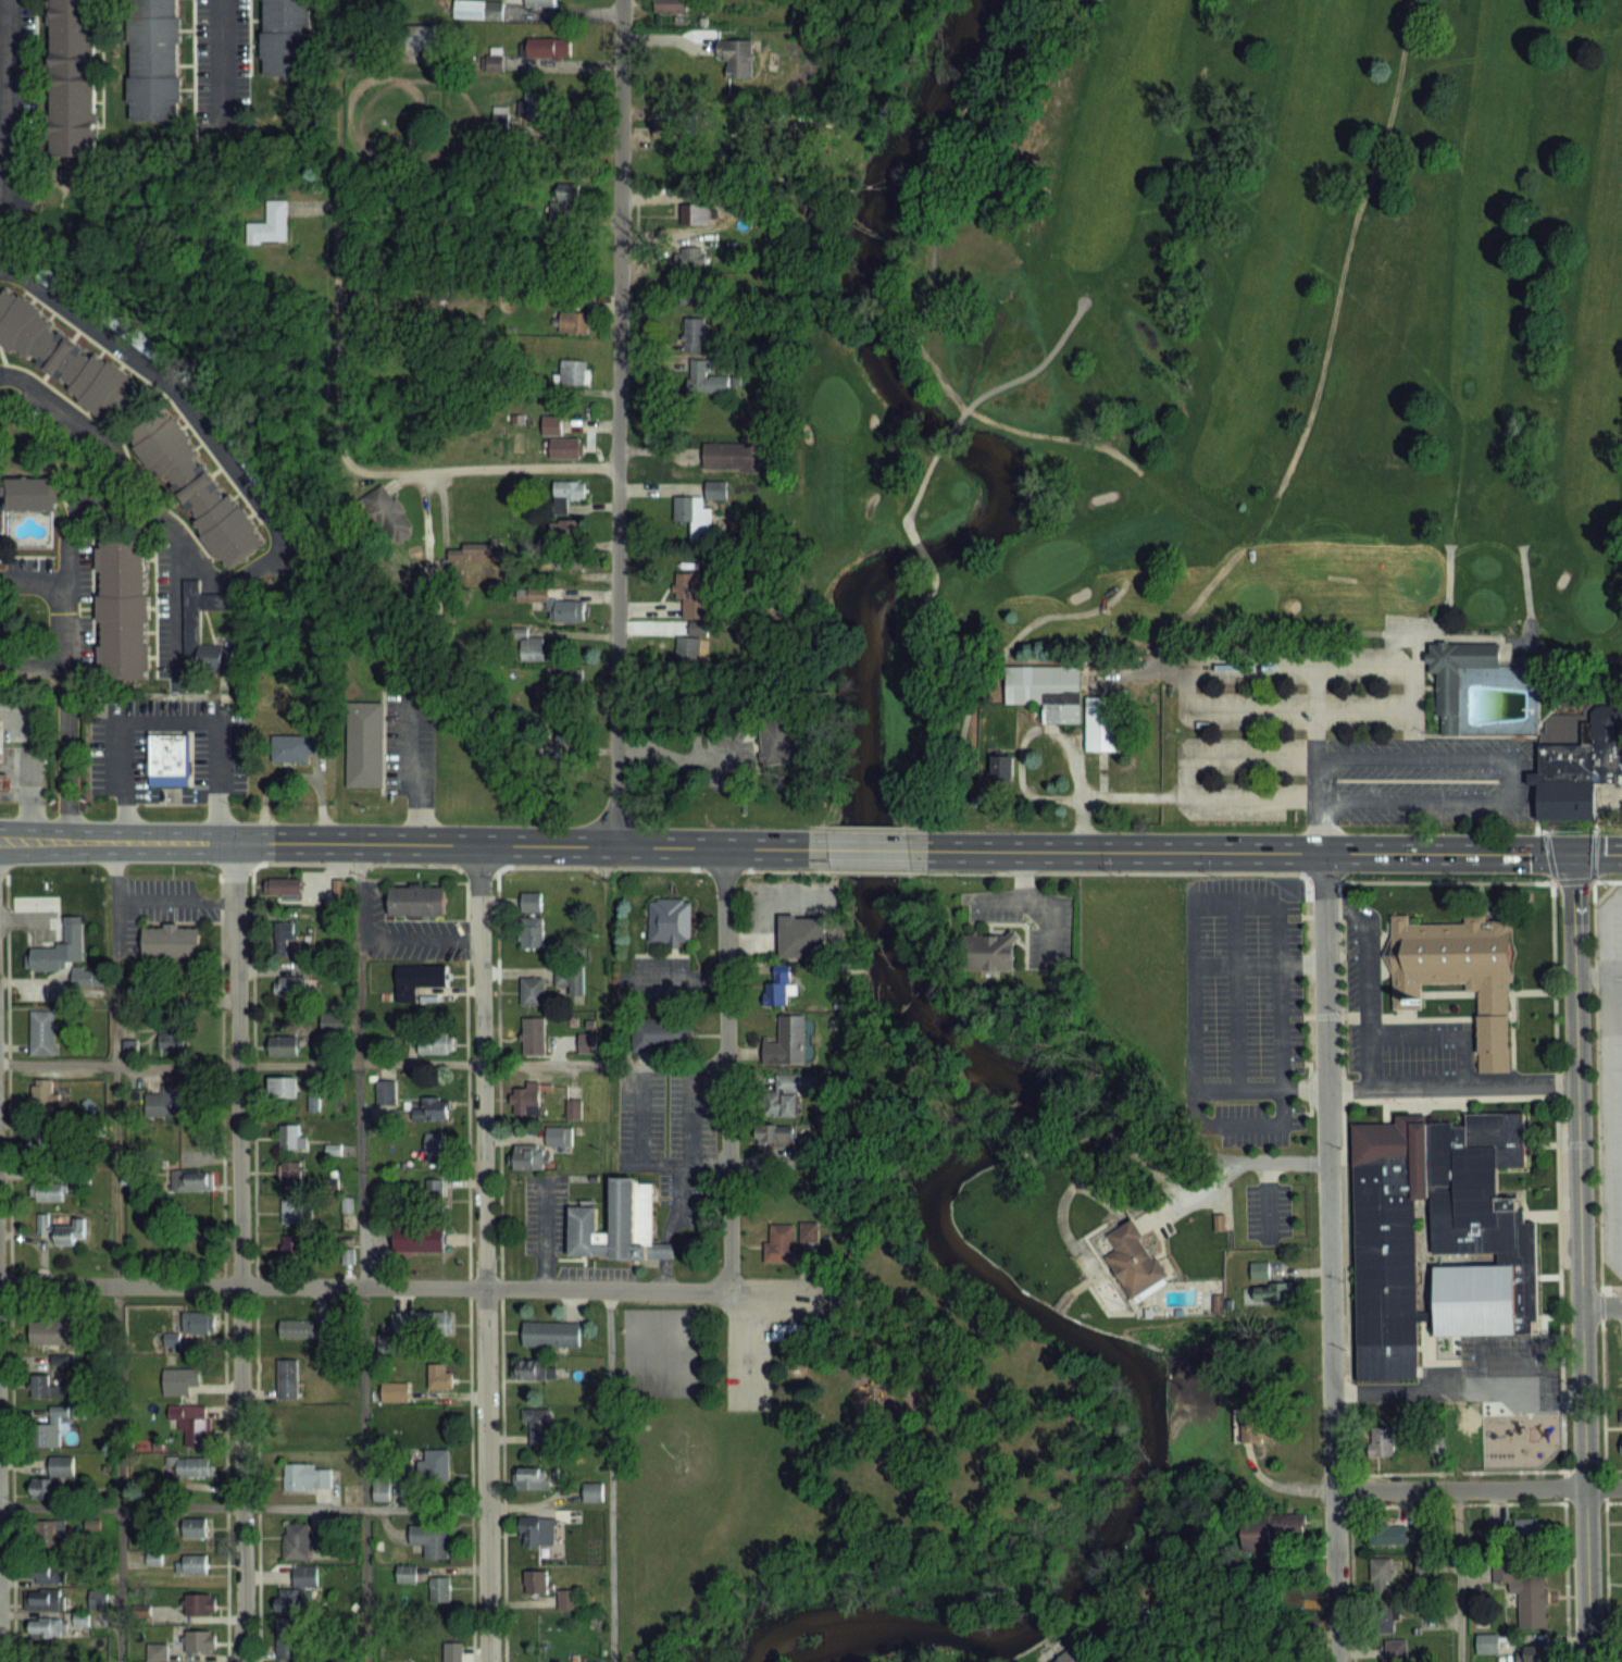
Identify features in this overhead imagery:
building: (539, 3)
building: (670, 7)
building: (478, 10)
road: (1073, 15)
building: (286, 37)
building: (419, 41)
building: (546, 47)
road: (222, 55)
building: (737, 58)
building: (152, 59)
road: (479, 66)
building: (71, 77)
road: (7, 101)
building: (537, 106)
building: (665, 129)
building: (562, 201)
building: (695, 215)
building: (271, 224)
building: (690, 259)
building: (689, 295)
building: (575, 323)
building: (694, 334)
building: (65, 358)
building: (573, 375)
building: (702, 379)
road: (342, 405)
park: (1230, 418)
building: (551, 424)
road: (616, 424)
building: (562, 448)
building: (727, 456)
road: (114, 461)
road: (236, 476)
building: (195, 487)
building: (29, 492)
building: (565, 494)
building: (699, 511)
building: (387, 516)
building: (565, 530)
building: (570, 561)
building: (694, 593)
building: (557, 604)
road: (174, 605)
building: (121, 607)
building: (188, 624)
road: (920, 627)
road: (1438, 634)
road: (1534, 642)
building: (532, 649)
building: (688, 652)
road: (1619, 658)
road: (1282, 662)
road: (32, 665)
building: (1455, 673)
building: (564, 680)
road: (64, 682)
building: (1046, 689)
road: (169, 719)
building: (1101, 722)
road: (33, 731)
building: (776, 740)
building: (0, 743)
building: (363, 743)
building: (291, 748)
road: (1375, 756)
building: (166, 758)
road: (677, 758)
road: (1314, 758)
parking lot: (1392, 762)
building: (1580, 766)
road: (405, 772)
building: (4, 782)
road: (29, 795)
road: (403, 845)
road: (868, 849)
road: (1125, 852)
road: (1473, 854)
traffic signals: (1573, 854)
road: (1022, 875)
building: (283, 886)
road: (1044, 898)
building: (415, 900)
building: (531, 902)
road: (759, 908)
building: (669, 920)
road: (1607, 930)
building: (532, 932)
building: (801, 937)
building: (280, 938)
building: (170, 941)
building: (60, 950)
building: (989, 953)
road: (1258, 963)
road: (1614, 964)
building: (1458, 970)
building: (83, 977)
road: (679, 977)
road: (1596, 977)
building: (419, 979)
building: (570, 979)
road: (1367, 980)
building: (781, 984)
road: (1611, 985)
building: (289, 987)
building: (532, 991)
road: (1234, 995)
road: (608, 1014)
building: (334, 1022)
building: (41, 1031)
road: (1439, 1033)
building: (663, 1034)
building: (533, 1035)
building: (172, 1037)
building: (787, 1039)
building: (435, 1042)
building: (587, 1042)
building: (282, 1045)
building: (128, 1047)
road: (302, 1062)
road: (1385, 1086)
building: (282, 1088)
building: (385, 1091)
building: (788, 1092)
building: (43, 1095)
building: (167, 1102)
building: (524, 1102)
building: (432, 1108)
building: (573, 1108)
road: (725, 1114)
road: (1280, 1120)
road: (639, 1133)
building: (774, 1134)
building: (557, 1136)
building: (288, 1137)
road: (689, 1140)
building: (41, 1141)
road: (1576, 1142)
building: (433, 1146)
building: (526, 1157)
road: (1251, 1157)
road: (704, 1162)
building: (290, 1174)
building: (192, 1179)
building: (434, 1190)
building: (46, 1191)
road: (1265, 1198)
building: (292, 1212)
parking lot: (544, 1213)
building: (617, 1225)
road: (666, 1226)
building: (61, 1230)
building: (808, 1231)
road: (542, 1233)
building: (1435, 1235)
building: (420, 1239)
building: (781, 1242)
building: (292, 1245)
road: (663, 1250)
road: (116, 1252)
road: (239, 1252)
road: (361, 1253)
road: (482, 1254)
road: (1332, 1257)
road: (1581, 1257)
building: (1133, 1260)
parking lot: (596, 1270)
building: (1259, 1270)
road: (1558, 1270)
road: (1599, 1270)
road: (662, 1273)
road: (420, 1286)
road: (1601, 1306)
building: (424, 1322)
building: (192, 1324)
building: (297, 1329)
park: (659, 1331)
building: (58, 1332)
building: (551, 1334)
building: (793, 1340)
building: (190, 1344)
parking lot: (745, 1361)
building: (532, 1368)
park: (659, 1375)
building: (441, 1377)
building: (287, 1379)
building: (184, 1381)
building: (45, 1388)
road: (1422, 1388)
building: (395, 1391)
building: (538, 1423)
building: (190, 1424)
building: (49, 1428)
building: (1257, 1429)
building: (300, 1434)
building: (1381, 1441)
building: (1436, 1442)
park: (824, 1447)
building: (436, 1464)
building: (61, 1465)
building: (192, 1467)
road: (608, 1473)
building: (307, 1477)
building: (531, 1477)
road: (1271, 1480)
road: (1604, 1487)
building: (46, 1488)
road: (1460, 1489)
building: (380, 1490)
building: (594, 1491)
park: (712, 1491)
road: (246, 1505)
building: (192, 1527)
building: (1527, 1529)
building: (1267, 1530)
building: (48, 1531)
building: (537, 1531)
road: (1460, 1531)
building: (1388, 1535)
building: (431, 1539)
building: (300, 1541)
building: (190, 1564)
building: (1381, 1570)
building: (48, 1571)
building: (405, 1573)
building: (536, 1583)
building: (297, 1589)
building: (439, 1590)
building: (1529, 1595)
building: (42, 1599)
building: (97, 1599)
building: (566, 1599)
building: (199, 1604)
building: (1384, 1617)
building: (46, 1628)
building: (288, 1637)
building: (199, 1641)
building: (1487, 1644)
building: (1395, 1650)
building: (157, 1652)
building: (452, 1652)
building: (1531, 1653)
road: (1112, 1655)
building: (1070, 1657)

